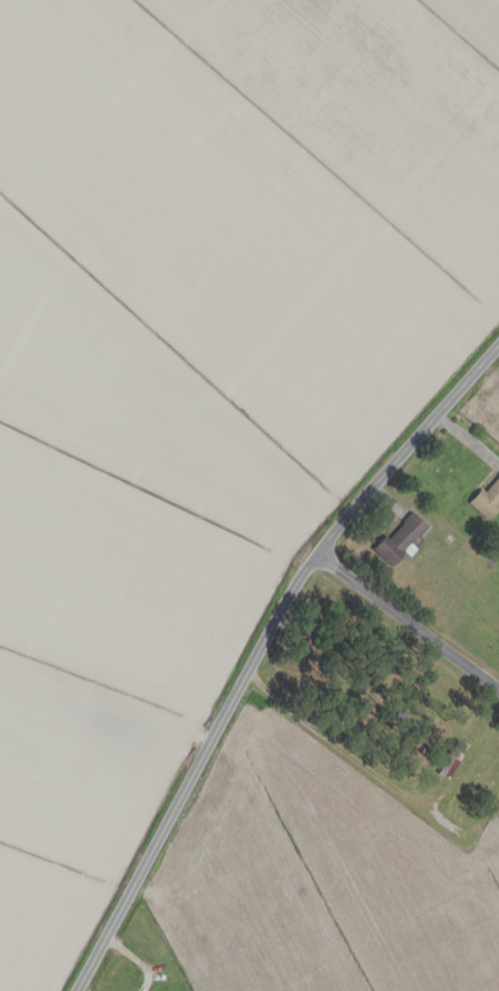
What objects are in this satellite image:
building: (487, 500)
building: (400, 538)
road: (406, 622)
road: (257, 649)
building: (365, 712)
building: (452, 759)

